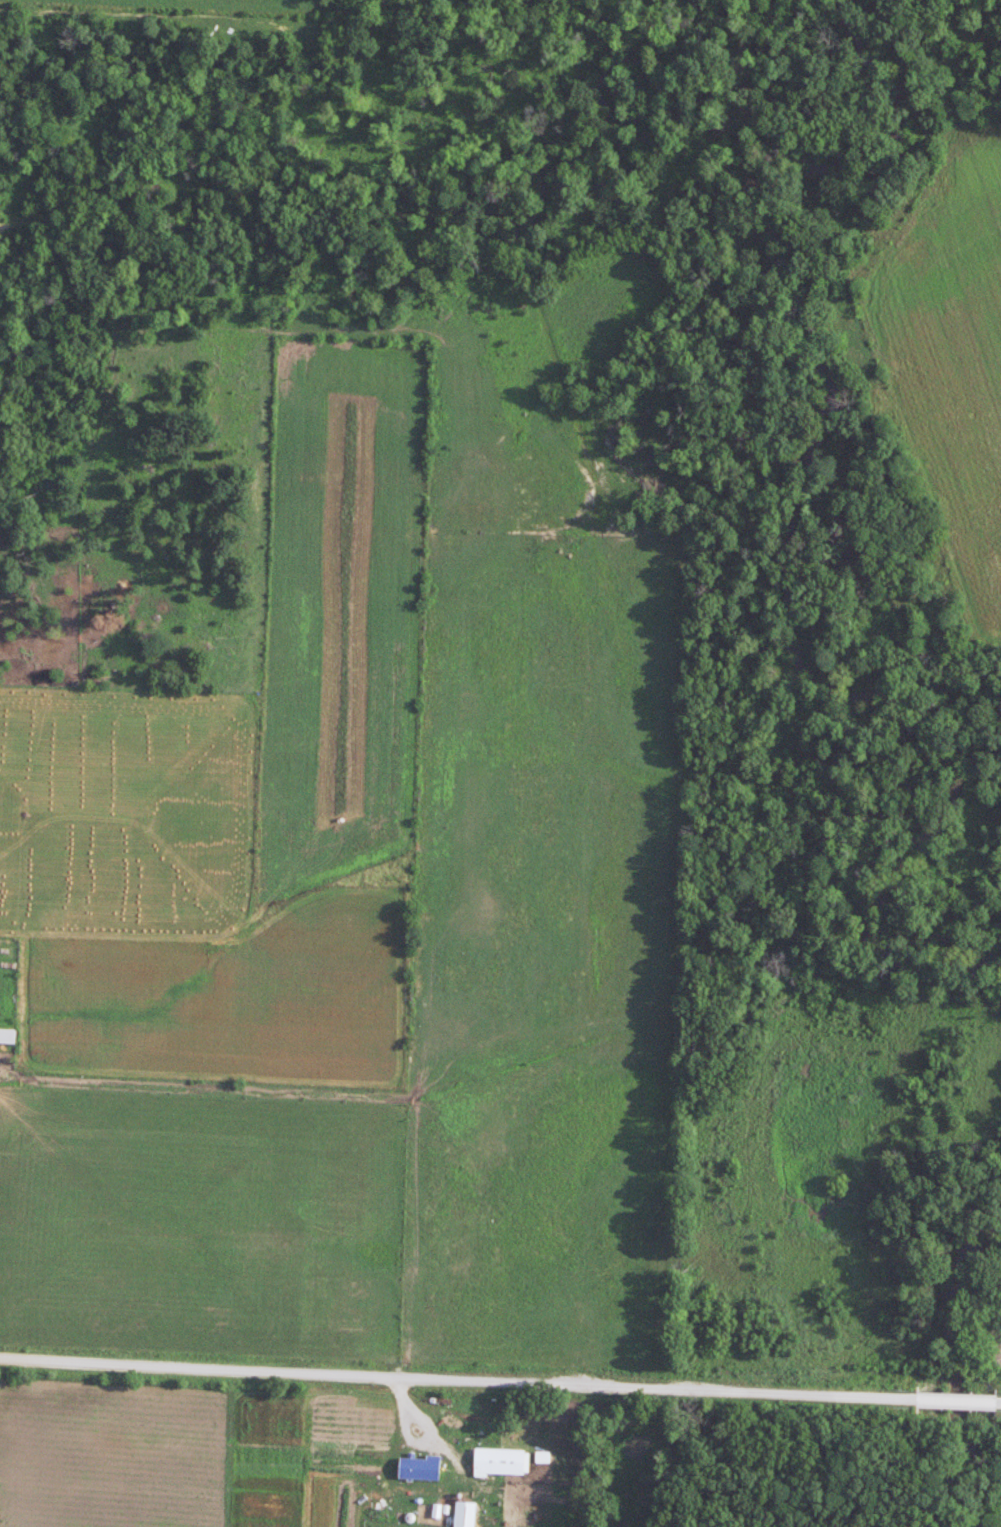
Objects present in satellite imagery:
building: (7, 1036)
road: (500, 1382)

